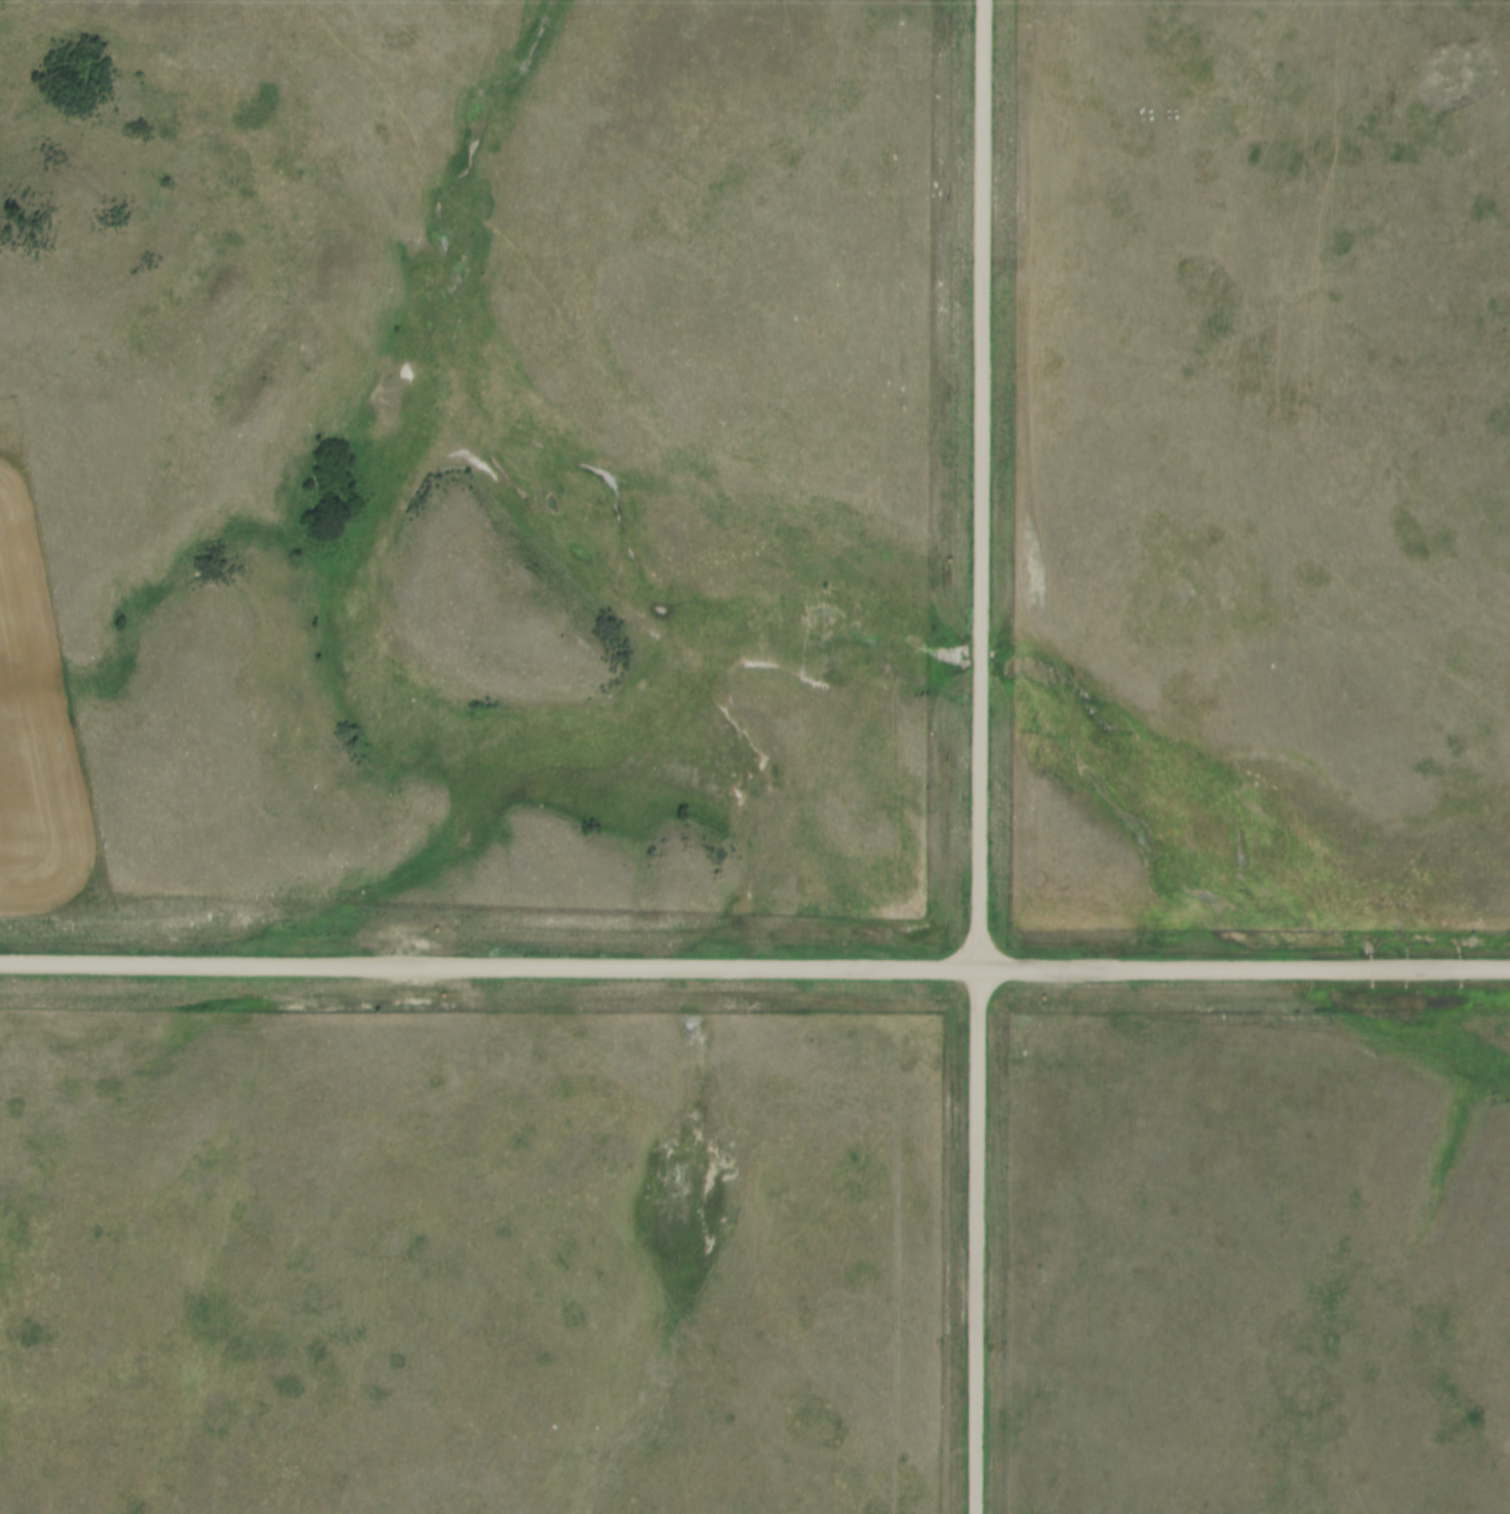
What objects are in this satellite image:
road: (984, 757)
road: (754, 969)

